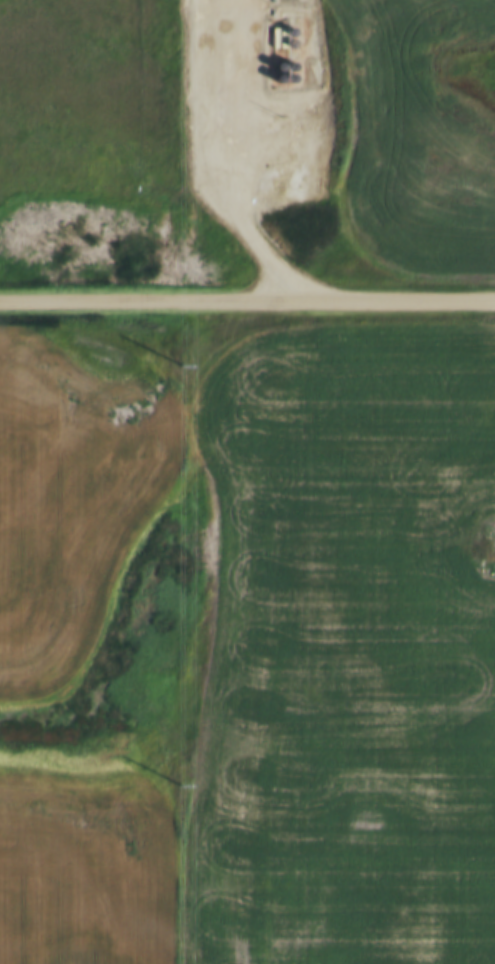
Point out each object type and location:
building: (280, 17)
storage tank: (280, 17)
building: (282, 29)
storage tank: (282, 29)
building: (281, 41)
storage tank: (281, 41)
building: (267, 53)
storage tank: (267, 53)
building: (280, 53)
storage tank: (280, 53)
building: (281, 66)
storage tank: (281, 66)
building: (269, 69)
storage tank: (269, 69)
road: (199, 166)
road: (247, 303)

